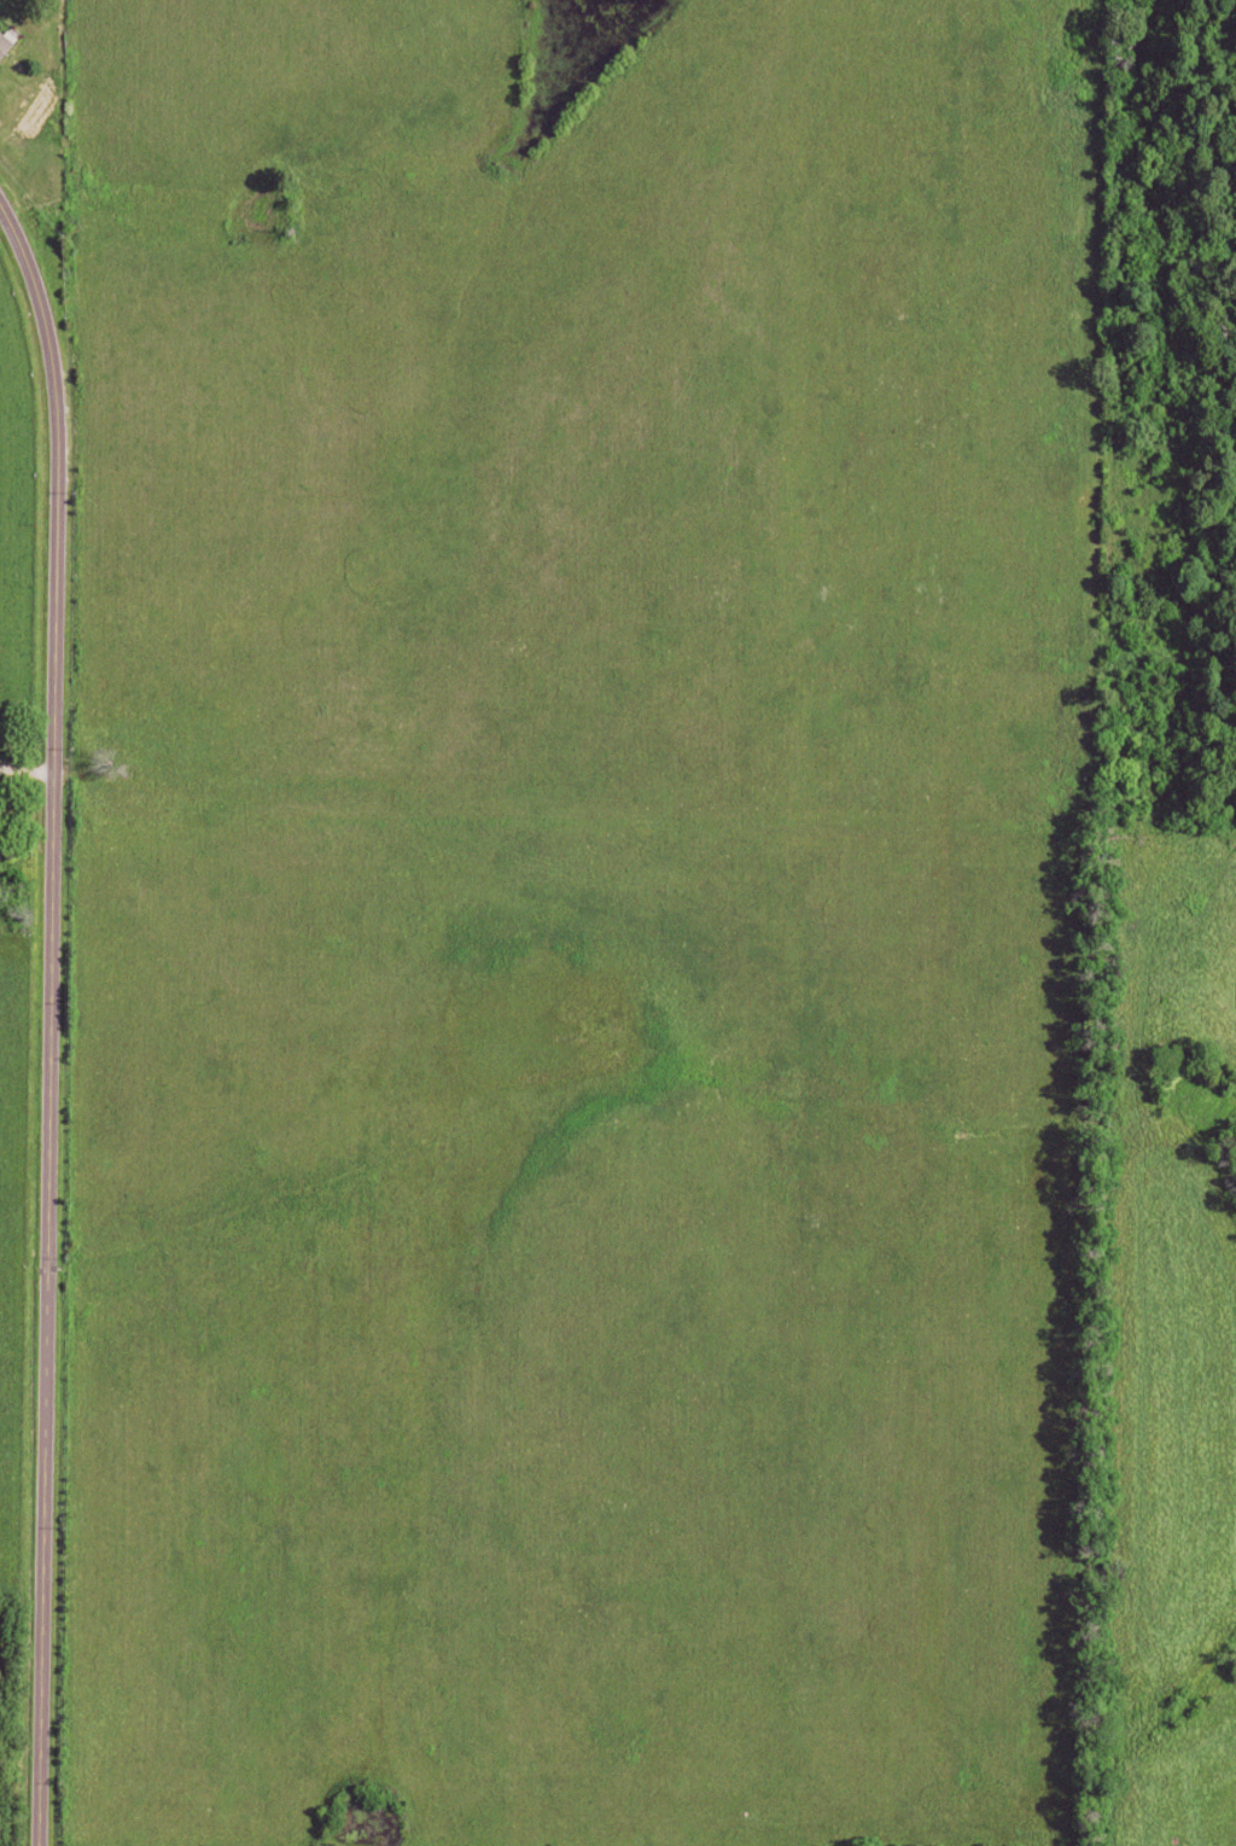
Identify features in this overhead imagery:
building: (7, 42)
road: (27, 773)
road: (49, 1017)

